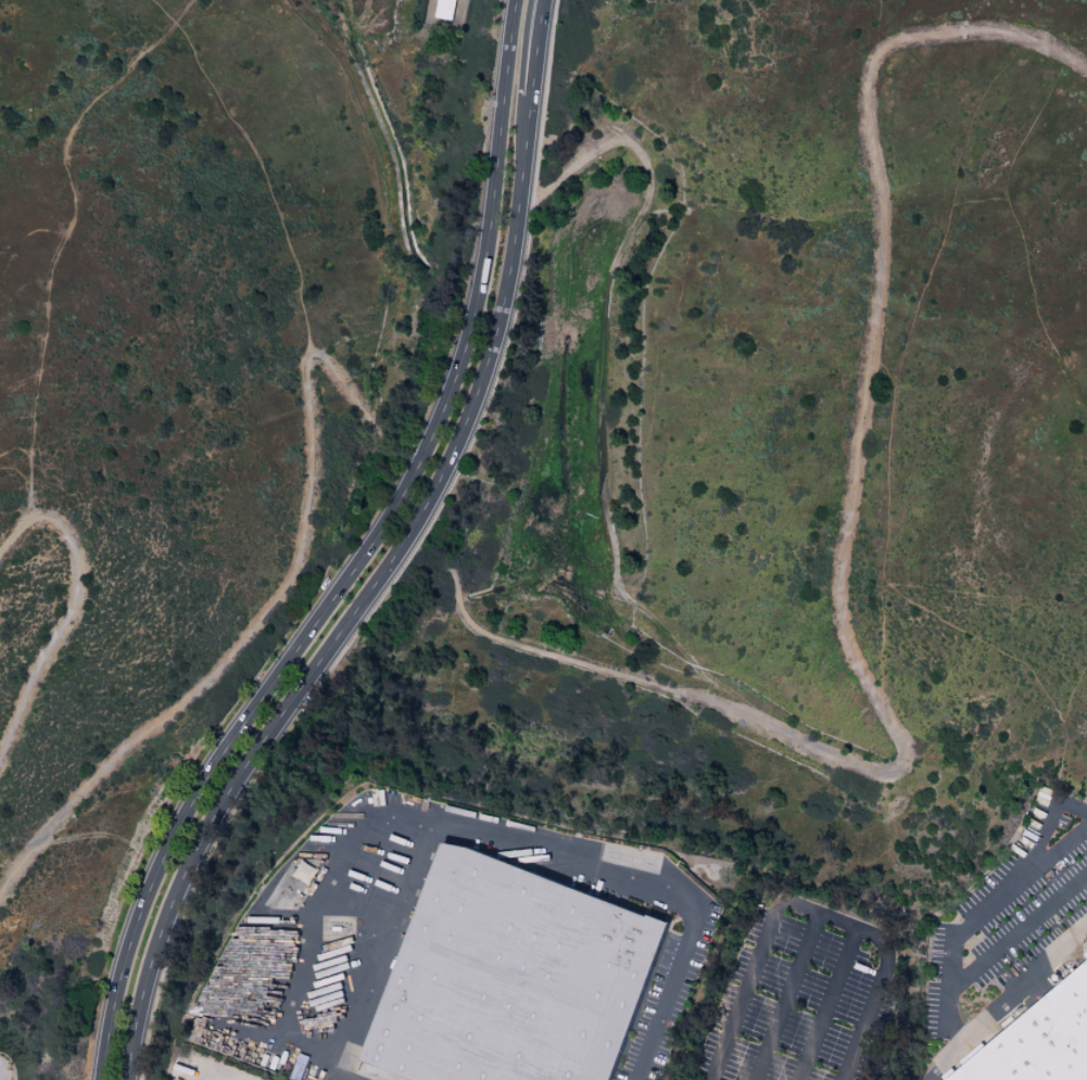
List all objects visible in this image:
building: (445, 10)
road: (256, 158)
road: (67, 236)
road: (491, 240)
road: (513, 245)
road: (345, 390)
road: (602, 393)
road: (404, 494)
road: (415, 505)
road: (424, 506)
road: (839, 559)
road: (71, 609)
road: (230, 656)
road: (206, 780)
road: (228, 788)
road: (1061, 842)
road: (514, 846)
building: (302, 872)
road: (983, 904)
road: (807, 910)
road: (1019, 931)
building: (514, 978)
park: (806, 991)
road: (1025, 995)
road: (781, 996)
parking lot: (796, 996)
road: (831, 1004)
building: (1040, 1040)
road: (947, 1065)

